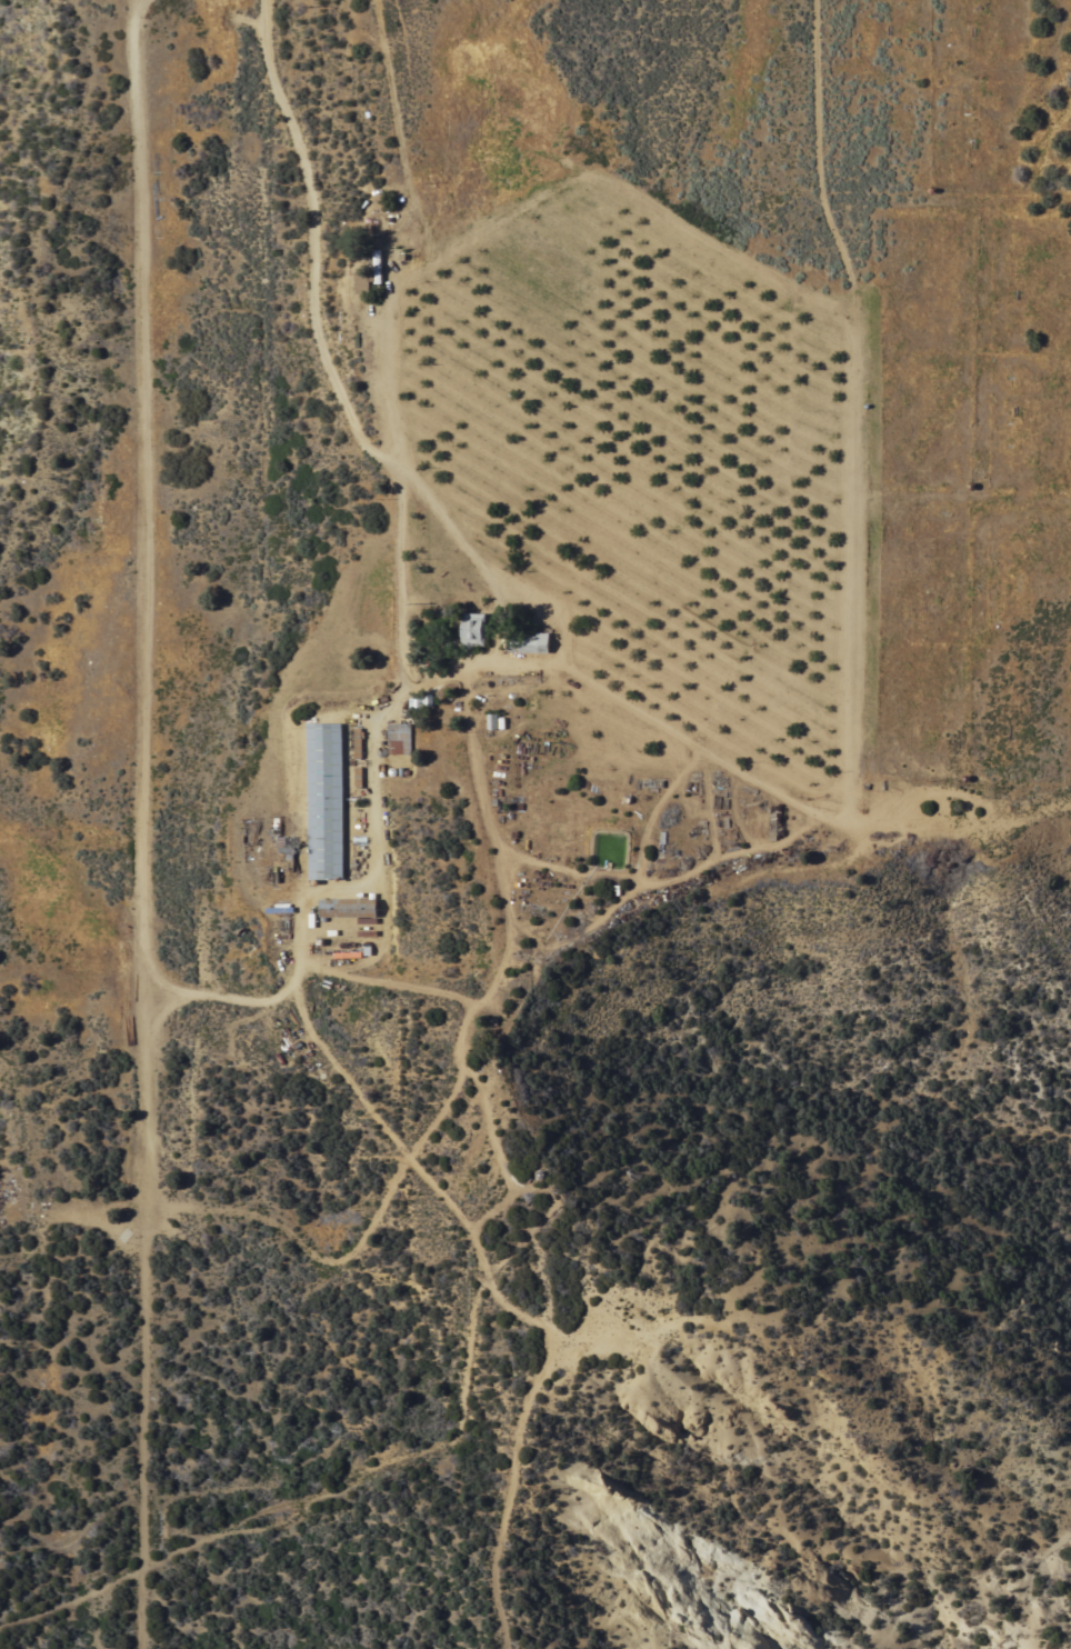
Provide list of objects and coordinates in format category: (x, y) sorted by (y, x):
road: (1008, 136)
road: (820, 144)
road: (400, 151)
road: (991, 156)
road: (178, 192)
road: (242, 196)
road: (1067, 259)
building: (367, 274)
road: (328, 360)
road: (858, 390)
road: (386, 392)
road: (965, 499)
road: (477, 561)
building: (474, 629)
building: (529, 642)
road: (859, 657)
road: (609, 692)
building: (418, 703)
building: (400, 738)
building: (327, 800)
road: (1065, 801)
road: (489, 819)
road: (947, 820)
road: (139, 823)
wastewater plant: (620, 831)
building: (349, 907)
road: (392, 983)
road: (208, 998)
road: (541, 1370)
road: (369, 1471)
road: (71, 1599)

